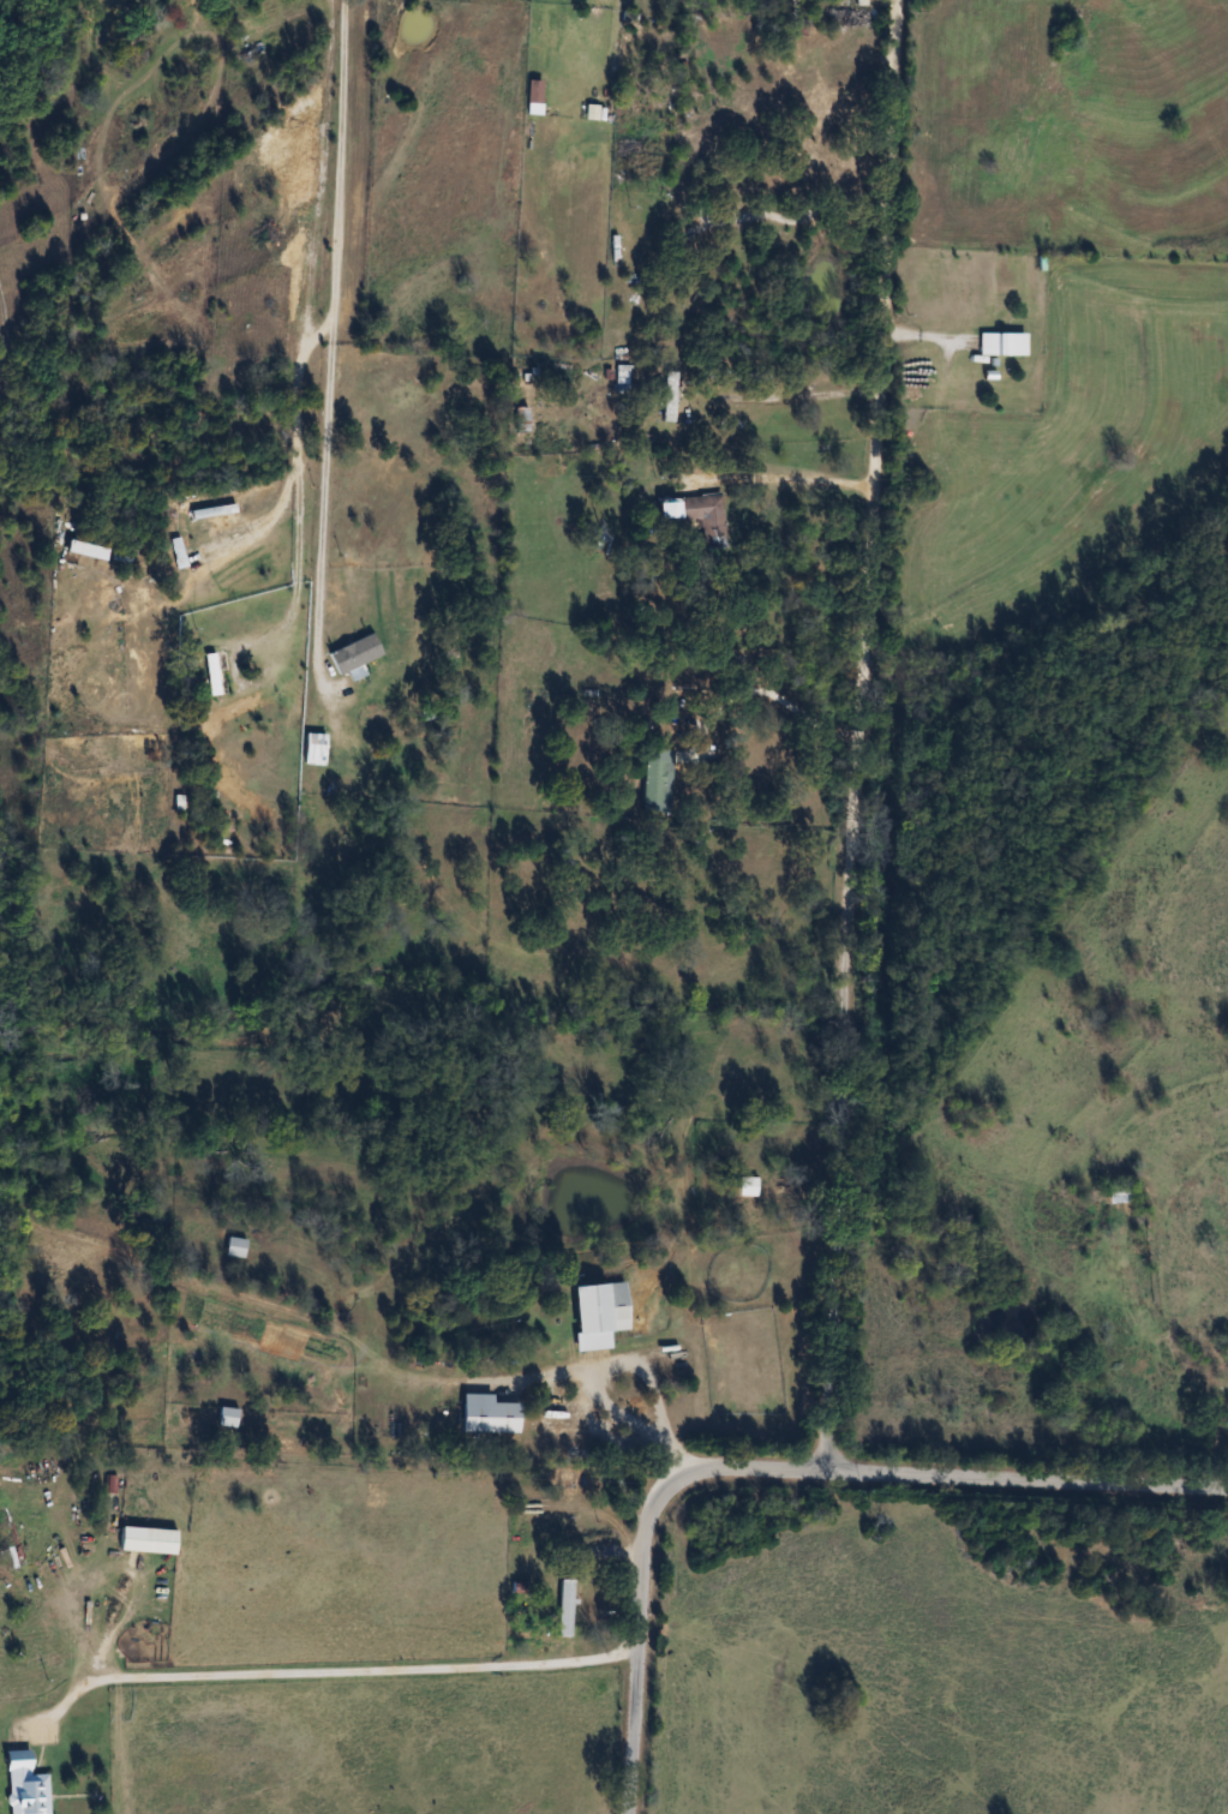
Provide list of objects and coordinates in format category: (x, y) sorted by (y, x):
building: (541, 40)
road: (325, 330)
road: (4, 334)
building: (993, 343)
road: (805, 394)
building: (669, 396)
building: (520, 419)
road: (785, 479)
building: (667, 510)
building: (706, 519)
building: (354, 655)
building: (134, 661)
road: (760, 694)
road: (862, 735)
building: (583, 755)
building: (657, 779)
building: (747, 1186)
building: (1119, 1193)
building: (235, 1247)
building: (600, 1309)
road: (615, 1364)
road: (613, 1413)
building: (489, 1415)
building: (227, 1417)
road: (777, 1467)
building: (148, 1539)
building: (565, 1608)
road: (324, 1674)
building: (25, 1785)

